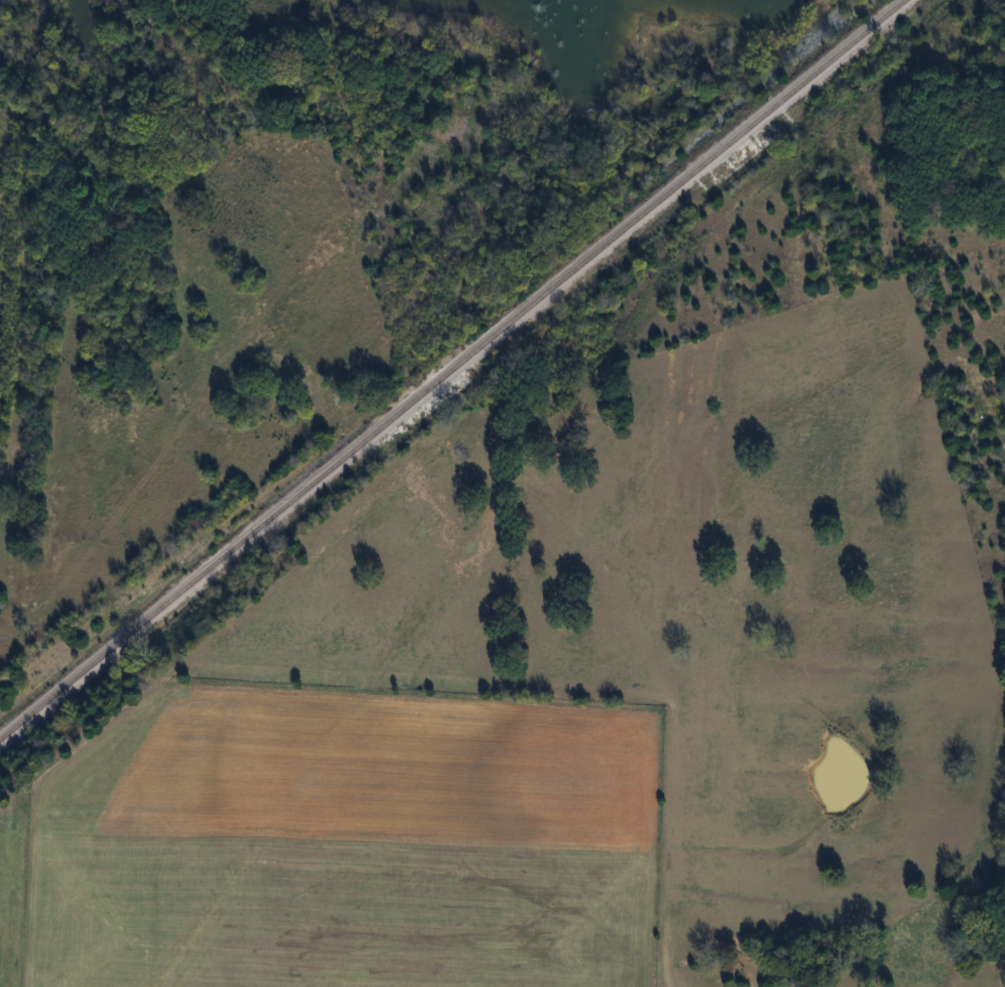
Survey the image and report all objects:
park: (946, 152)
railway: (451, 369)

